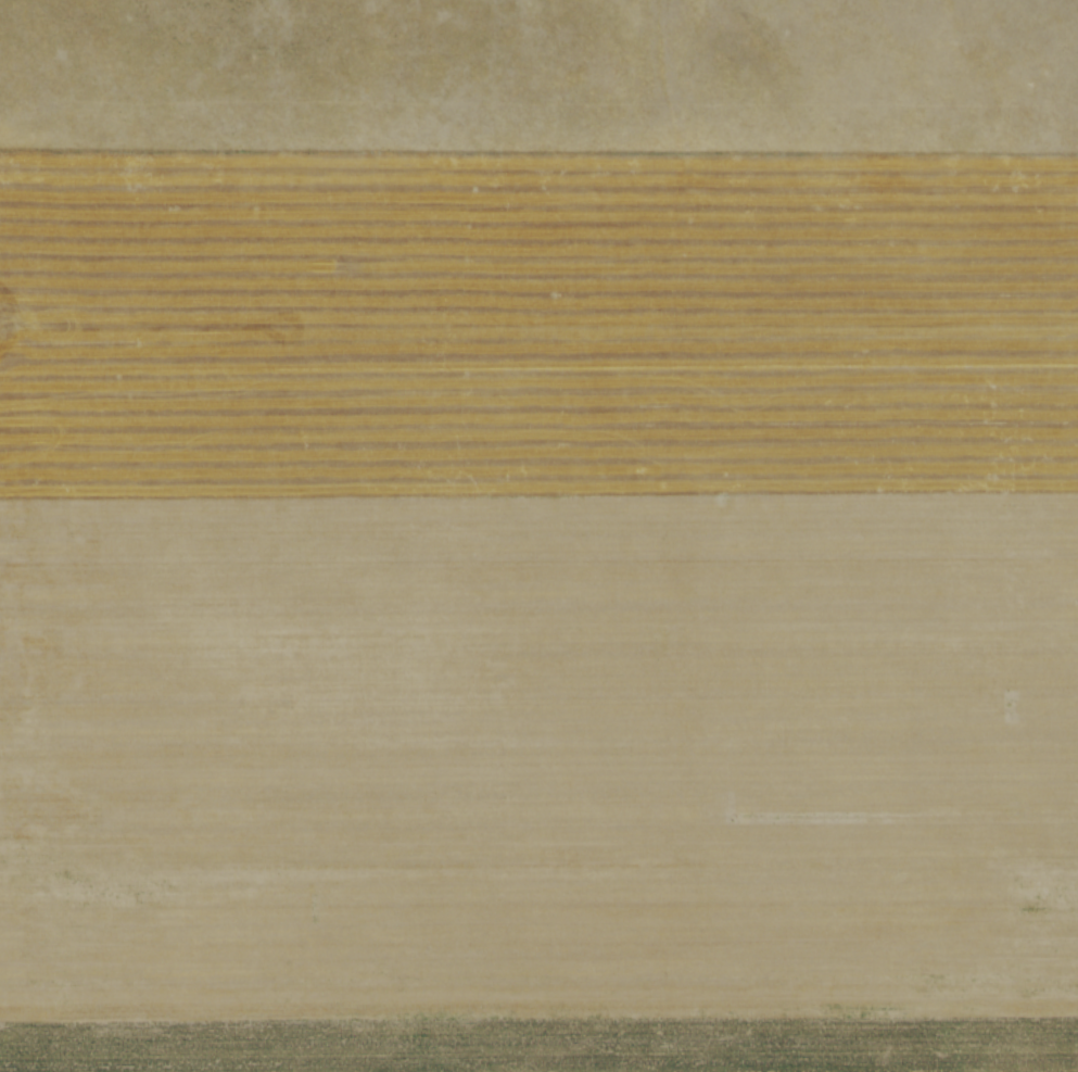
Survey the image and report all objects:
crop: (548, 1045)

